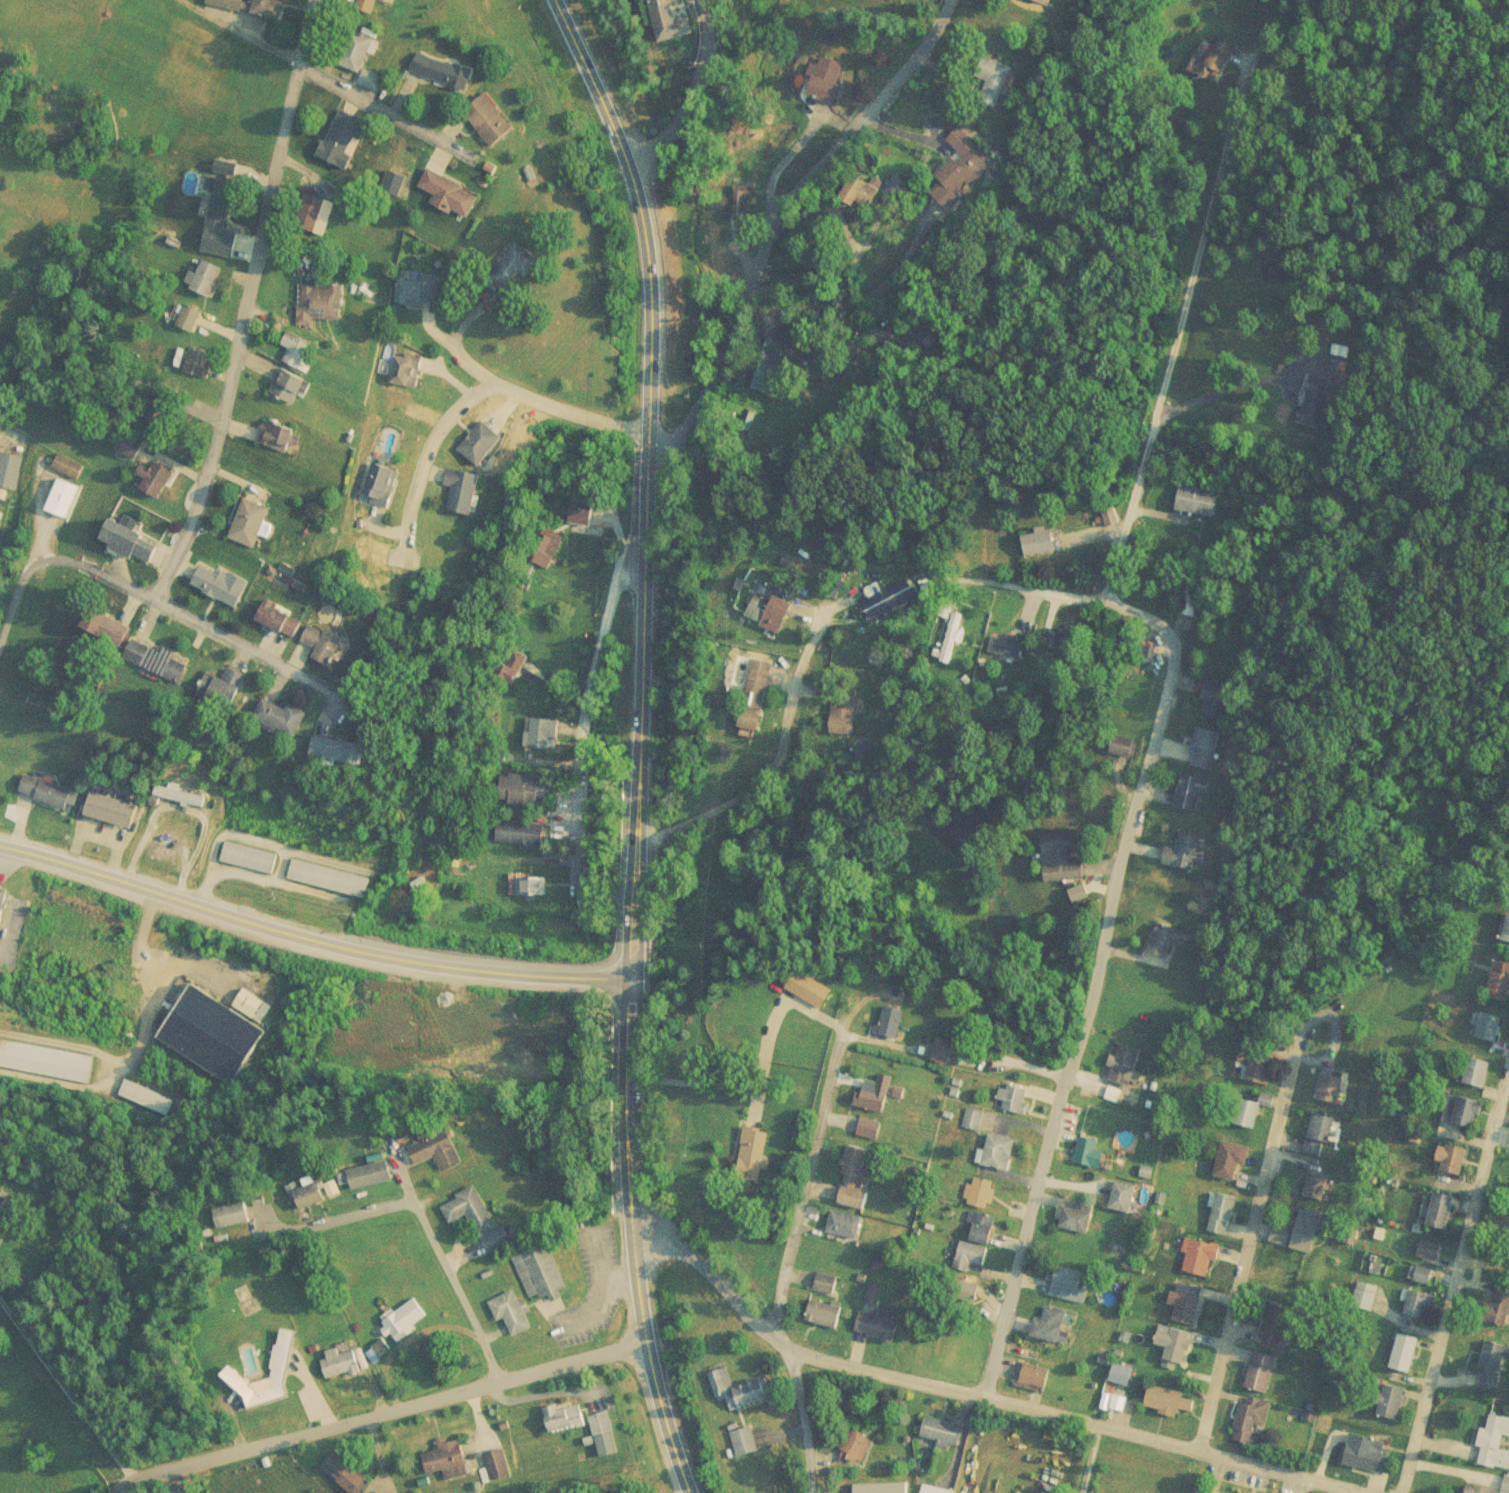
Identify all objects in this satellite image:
road: (691, 92)
road: (385, 105)
road: (769, 217)
road: (244, 299)
road: (1169, 375)
road: (541, 401)
road: (424, 458)
road: (62, 553)
road: (252, 648)
road: (584, 706)
road: (641, 742)
road: (766, 769)
road: (1109, 916)
road: (311, 934)
road: (150, 993)
road: (806, 1183)
road: (365, 1215)
road: (1248, 1239)
road: (442, 1257)
road: (1453, 1275)
road: (769, 1327)
road: (64, 1386)
road: (374, 1407)
road: (1078, 1419)
road: (1303, 1486)

